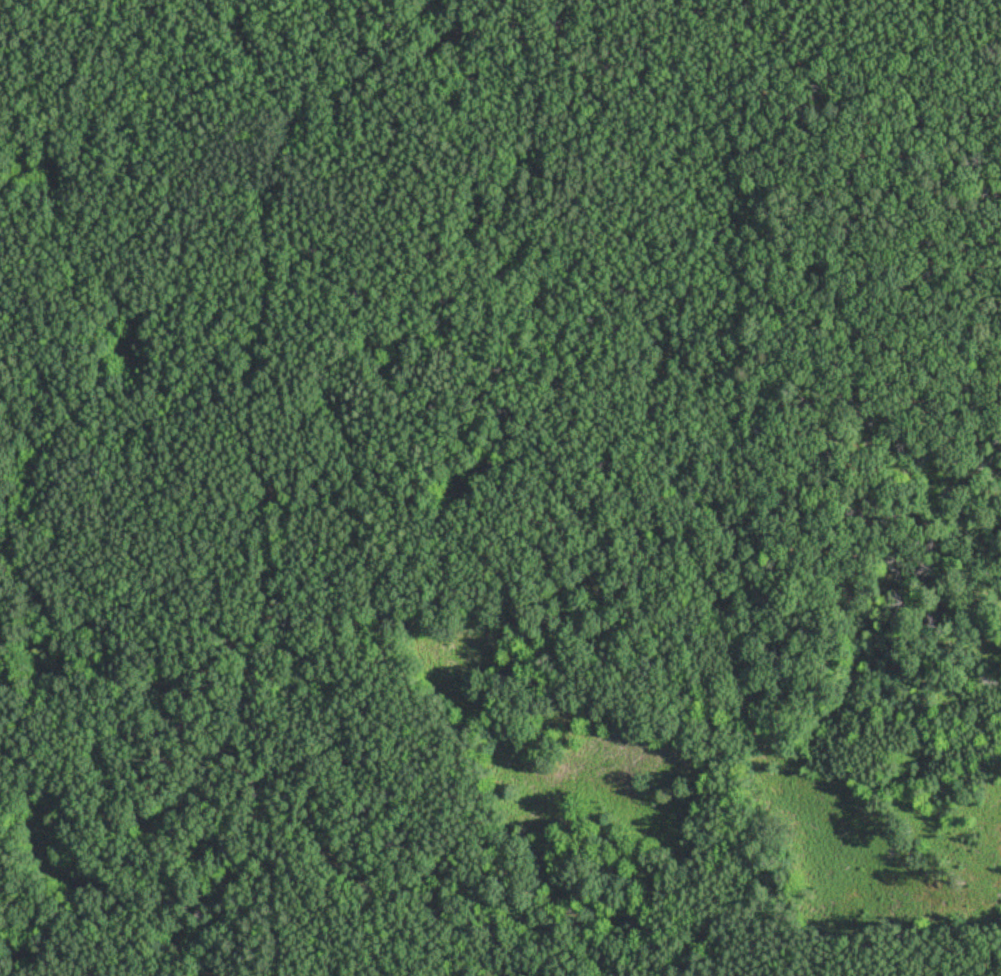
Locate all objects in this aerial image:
road: (268, 485)

